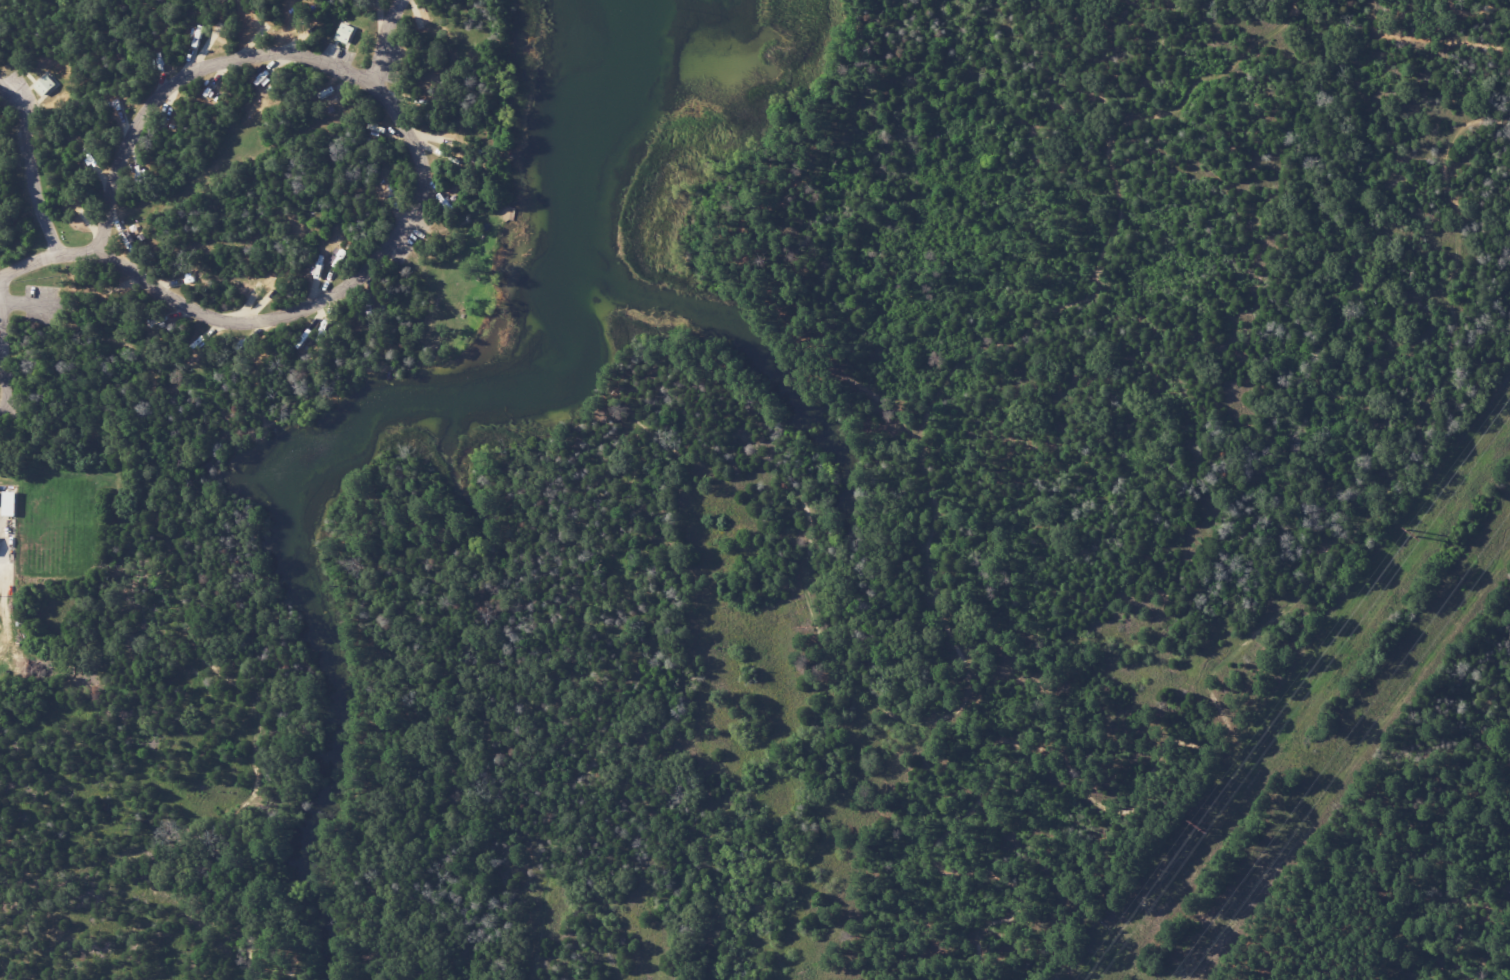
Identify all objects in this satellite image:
building: (343, 33)
road: (1432, 40)
road: (390, 42)
building: (44, 85)
road: (401, 127)
road: (35, 173)
road: (47, 255)
road: (2, 374)
road: (935, 419)
road: (750, 461)
power tower: (1412, 533)
road: (162, 581)
road: (1220, 668)
power tower: (1196, 829)

